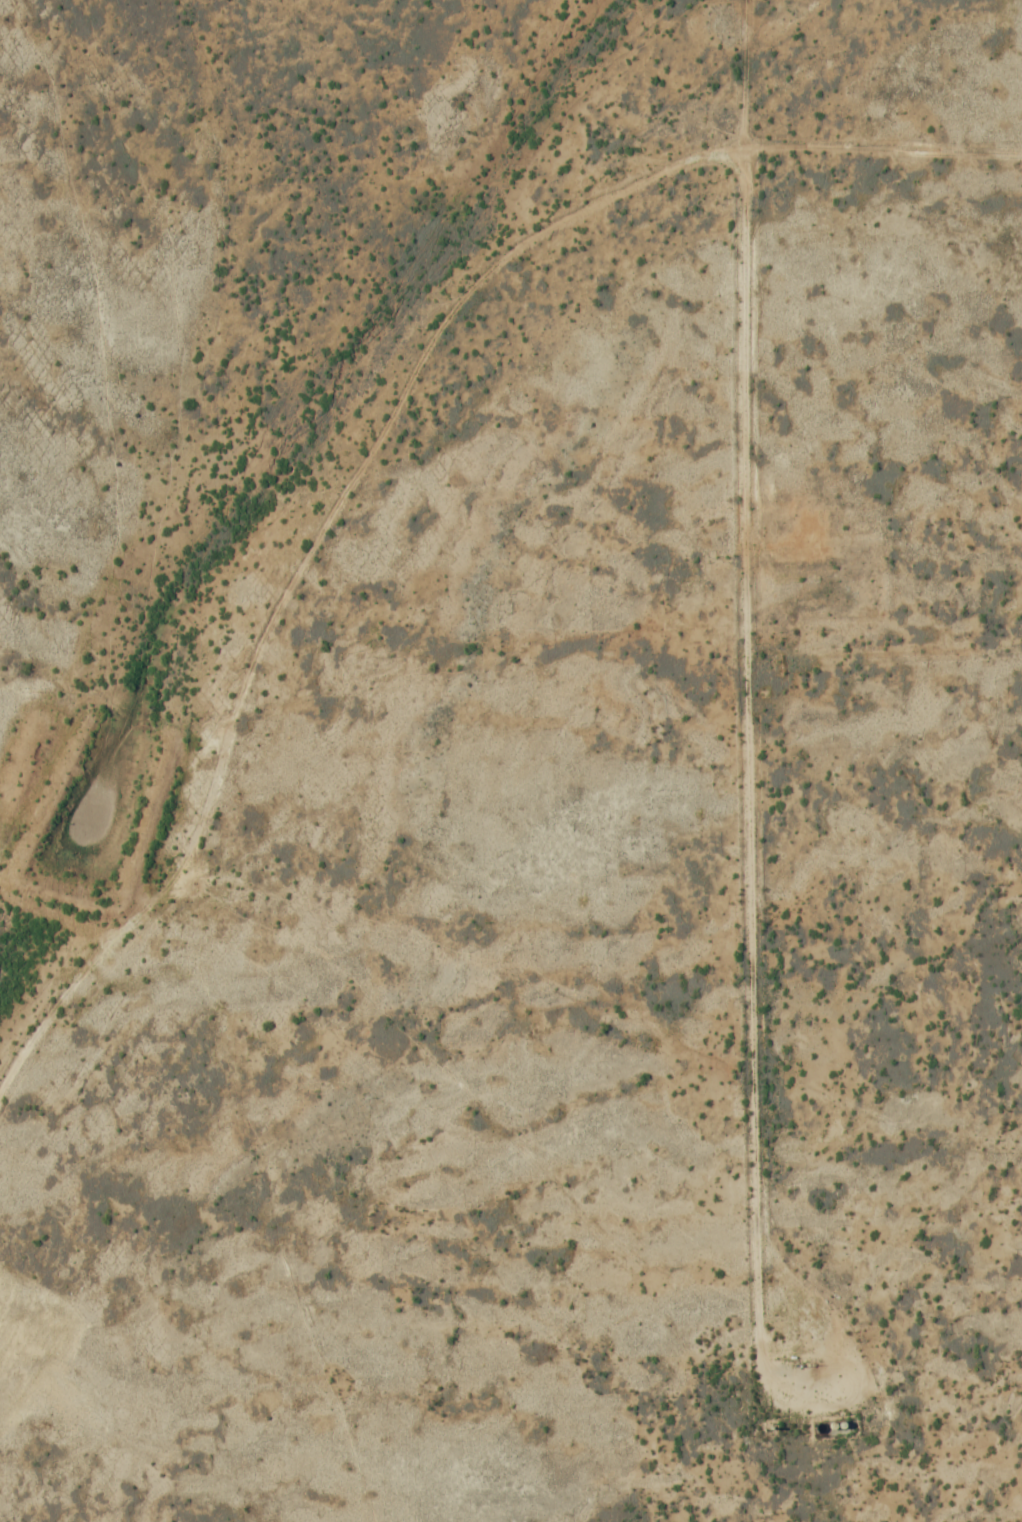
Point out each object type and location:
road: (751, 70)
road: (380, 436)
road: (757, 811)

